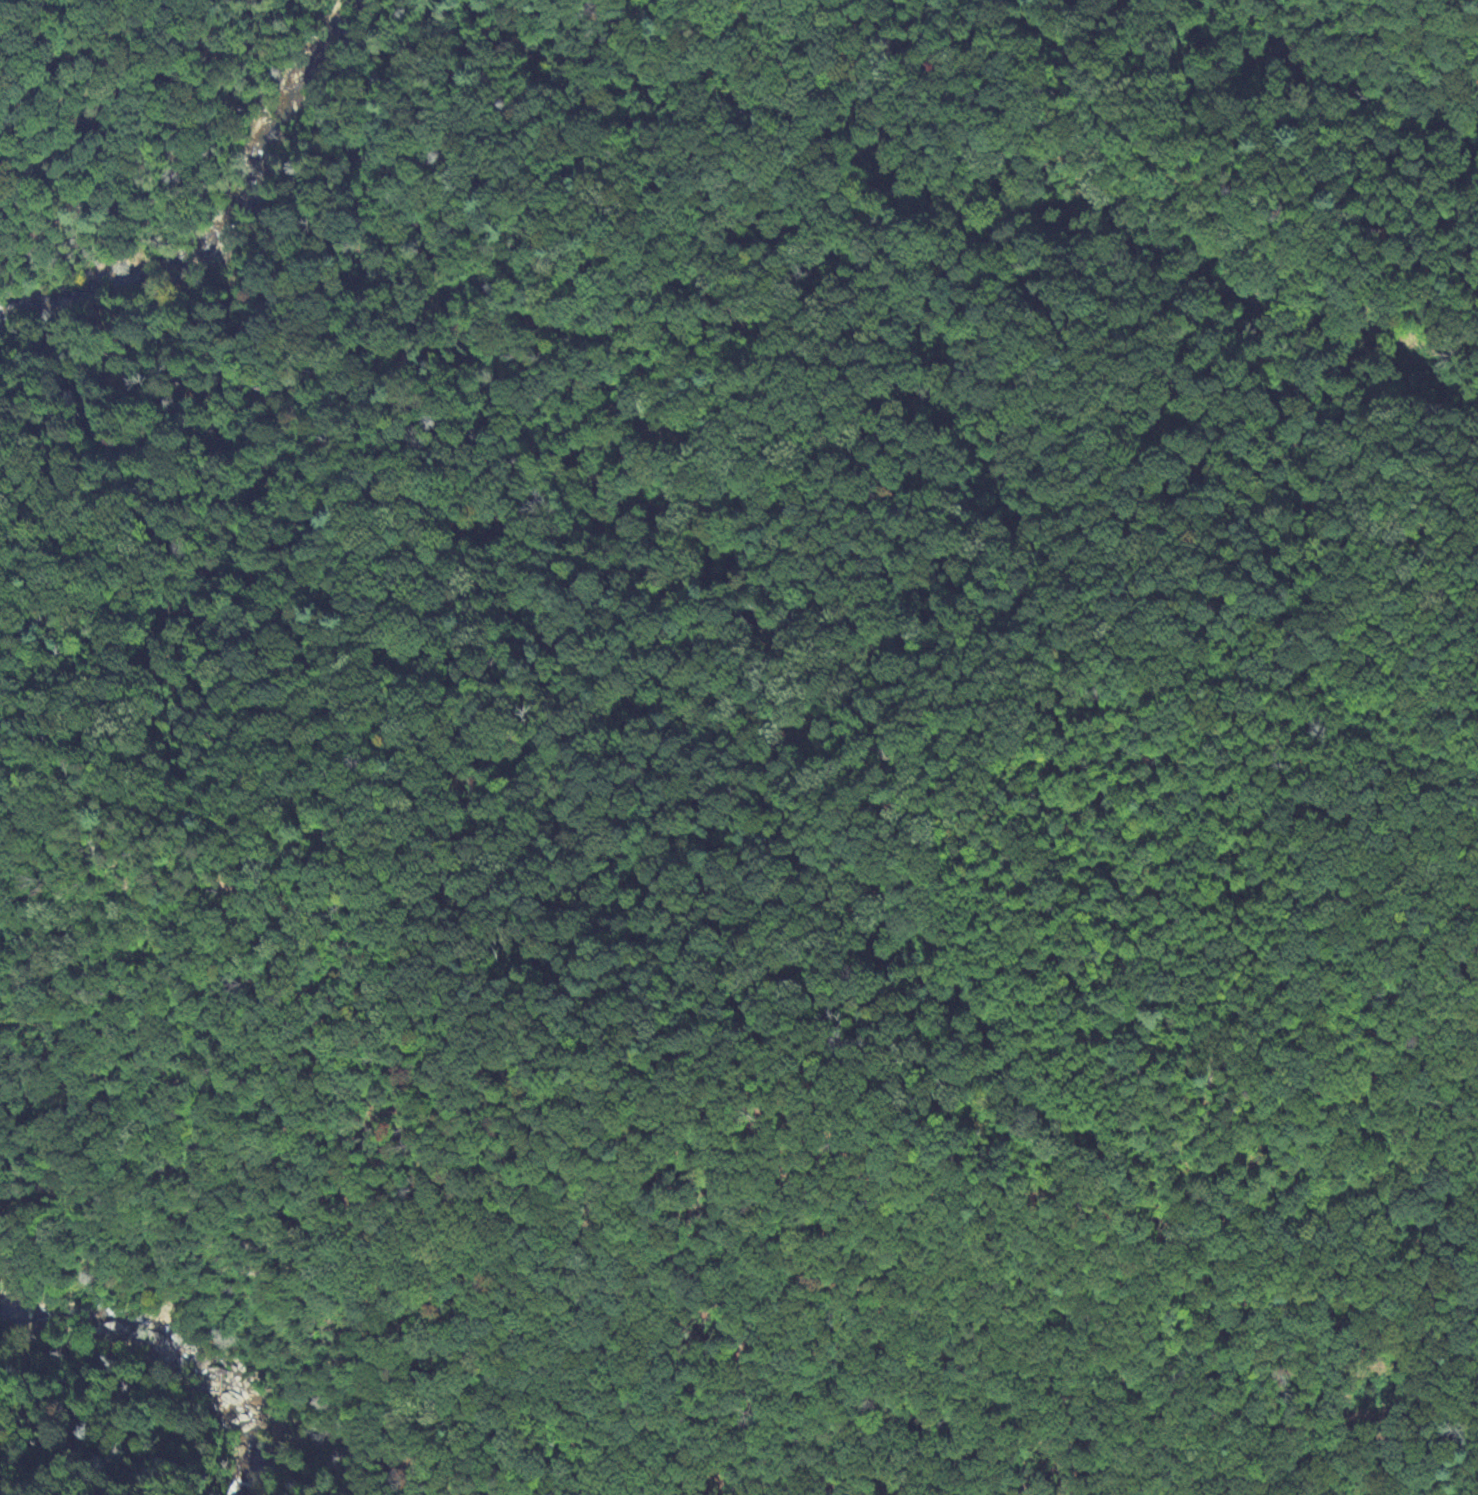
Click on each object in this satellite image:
road: (192, 179)
road: (144, 1302)
road: (519, 1349)

